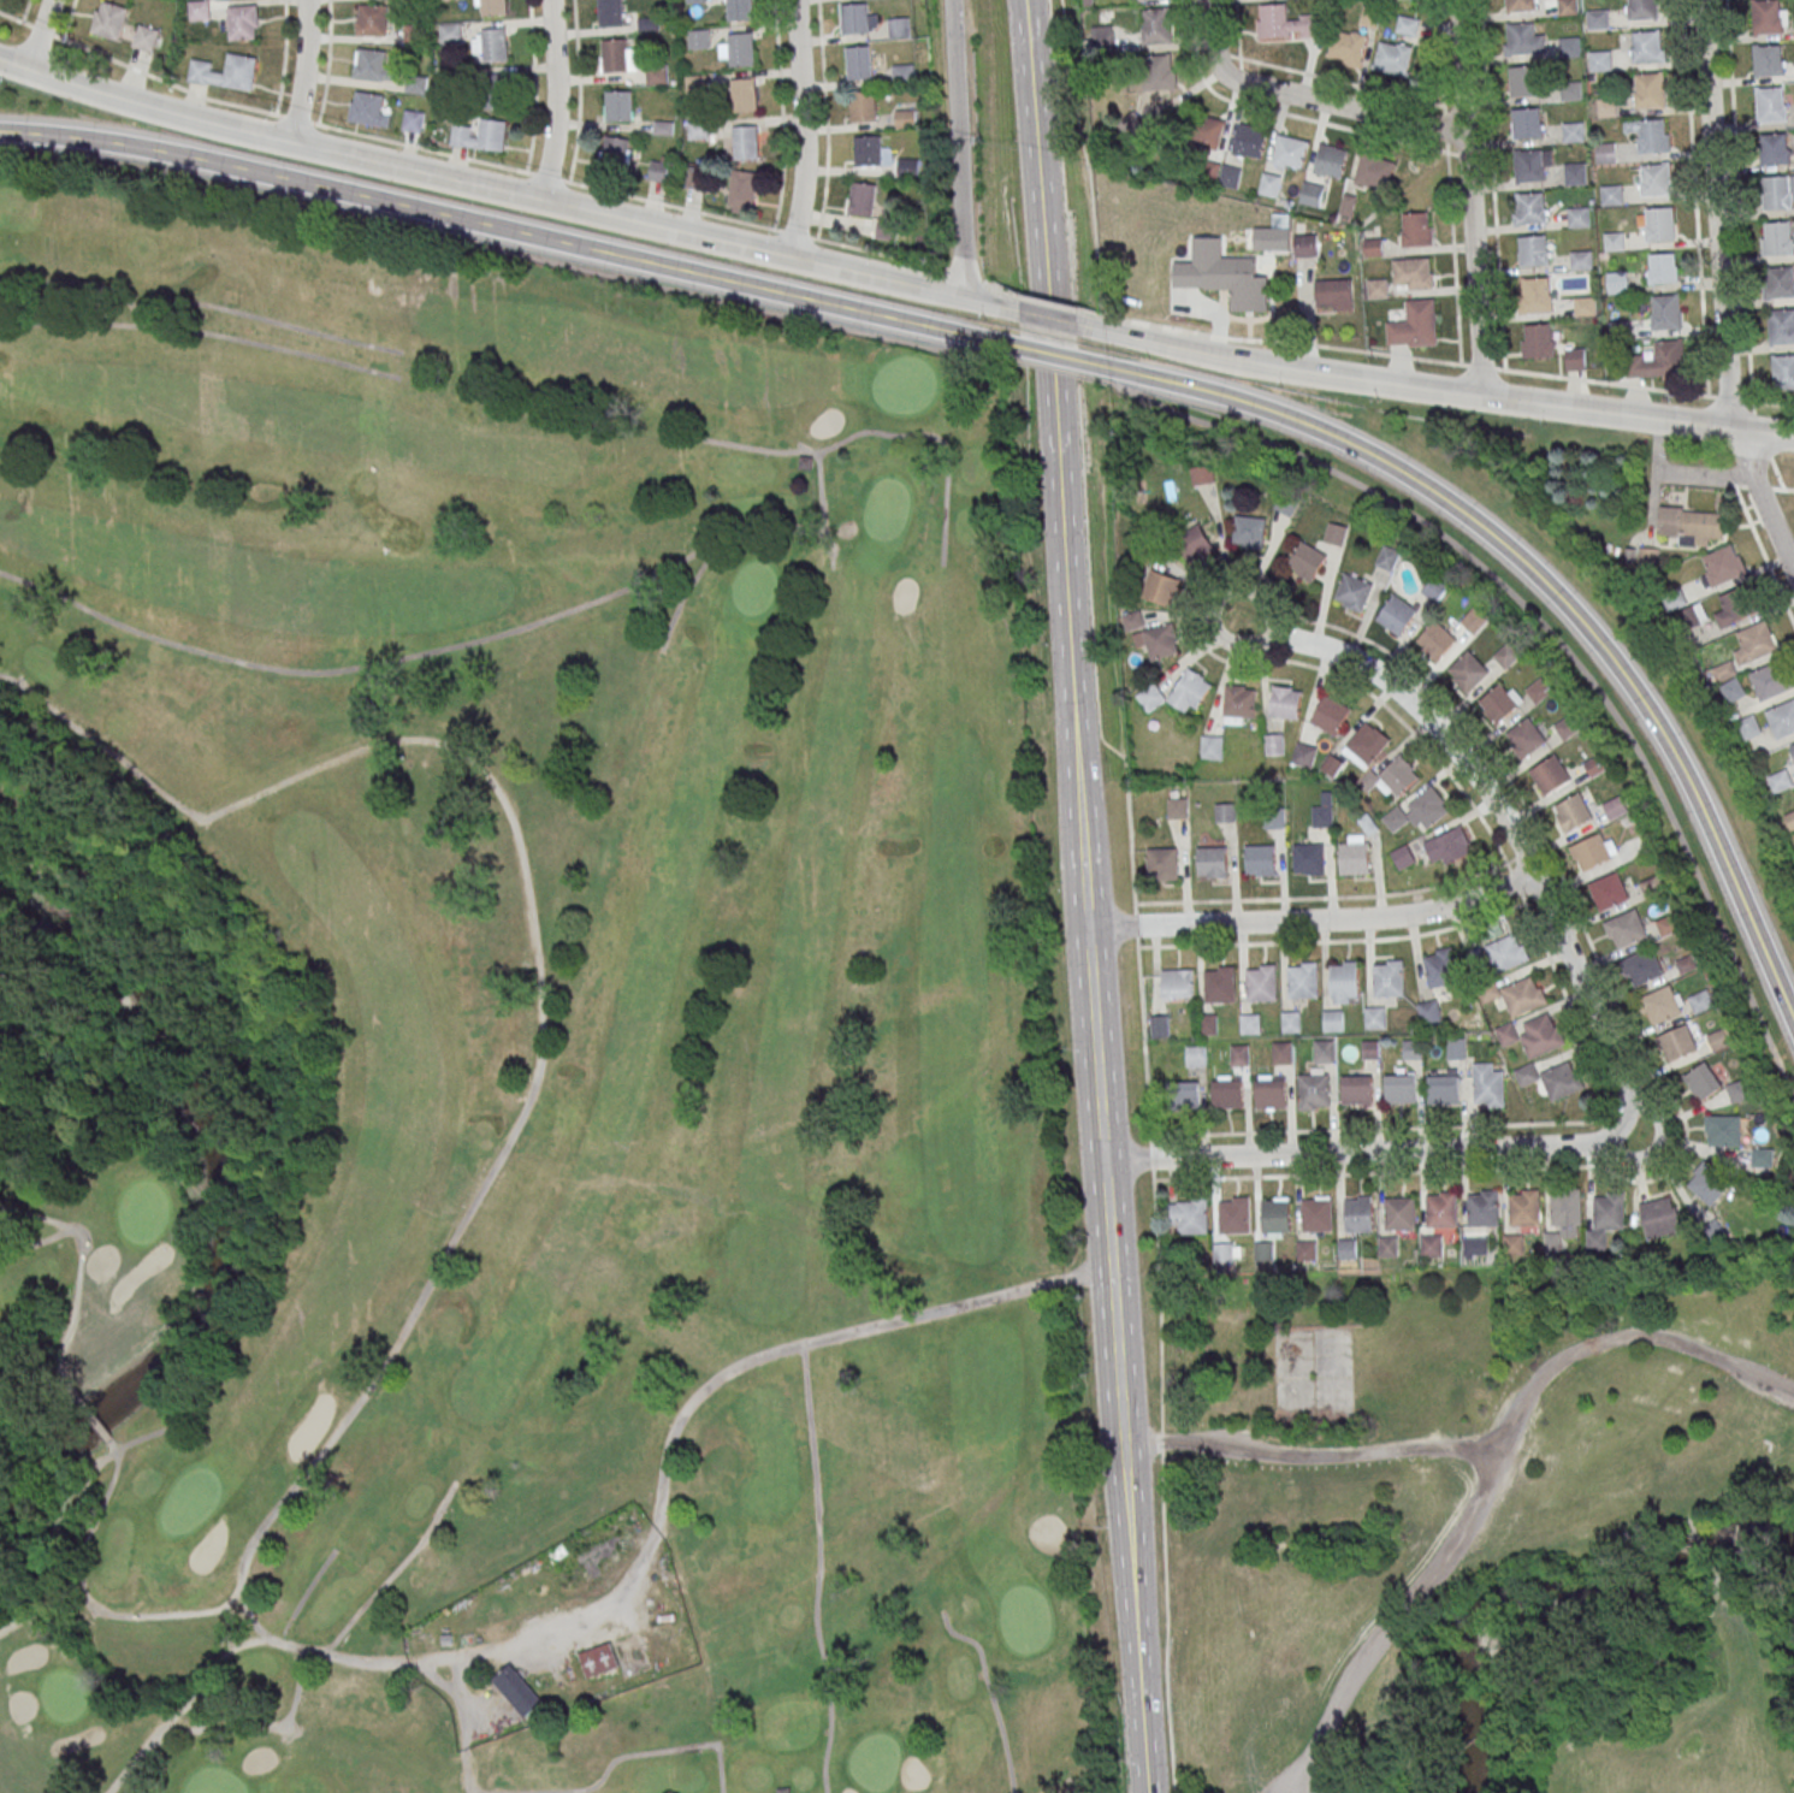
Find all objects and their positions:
building: (694, 2)
building: (1520, 6)
building: (490, 7)
building: (1567, 8)
building: (1641, 10)
building: (738, 11)
building: (197, 12)
building: (609, 13)
building: (1766, 16)
building: (1369, 17)
building: (108, 19)
road: (67, 20)
building: (371, 20)
building: (852, 20)
building: (243, 22)
road: (1236, 22)
building: (1597, 22)
building: (1285, 23)
building: (1155, 25)
building: (1407, 25)
road: (1213, 26)
building: (896, 29)
building: (413, 34)
road: (39, 35)
building: (449, 35)
building: (144, 39)
building: (1101, 39)
building: (1523, 39)
building: (697, 42)
building: (490, 43)
building: (1646, 46)
building: (1346, 48)
building: (1568, 49)
building: (740, 52)
road: (284, 58)
building: (611, 58)
building: (1392, 58)
building: (1768, 59)
building: (1599, 60)
road: (1256, 63)
road: (327, 64)
building: (857, 64)
building: (372, 66)
road: (304, 71)
building: (225, 72)
building: (1161, 72)
building: (656, 76)
building: (901, 76)
road: (1228, 76)
building: (1523, 81)
building: (450, 82)
road: (534, 85)
road: (1367, 85)
building: (694, 87)
building: (1650, 90)
building: (493, 91)
road: (578, 91)
building: (1570, 94)
building: (741, 97)
road: (556, 100)
building: (1770, 103)
building: (617, 106)
building: (367, 110)
building: (860, 110)
road: (1362, 110)
road: (781, 116)
road: (1291, 119)
road: (825, 120)
building: (904, 120)
building: (412, 122)
building: (1527, 123)
road: (805, 129)
building: (1206, 131)
building: (697, 132)
building: (1573, 134)
building: (1648, 134)
building: (480, 135)
building: (1249, 141)
building: (744, 146)
building: (1774, 147)
road: (955, 148)
building: (615, 153)
building: (866, 153)
building: (1289, 153)
building: (1330, 161)
road: (485, 162)
building: (1533, 165)
building: (907, 166)
building: (1373, 170)
building: (658, 171)
building: (693, 177)
building: (1574, 177)
building: (1656, 179)
road: (1449, 182)
building: (1268, 184)
road: (490, 188)
building: (741, 190)
building: (1776, 191)
building: (1310, 194)
building: (1611, 197)
road: (1694, 197)
building: (862, 199)
road: (1472, 199)
road: (1739, 200)
building: (1528, 209)
building: (1577, 219)
building: (1659, 224)
road: (493, 225)
building: (1416, 230)
building: (1778, 237)
building: (1279, 239)
building: (1614, 244)
building: (1304, 245)
road: (496, 248)
building: (1373, 248)
building: (1533, 250)
building: (1580, 262)
building: (1663, 268)
building: (1411, 273)
building: (1222, 276)
building: (1778, 280)
building: (1617, 285)
road: (1722, 288)
building: (1378, 289)
building: (1333, 295)
building: (1535, 295)
road: (1042, 300)
building: (1583, 308)
building: (1665, 312)
road: (1046, 316)
building: (1414, 325)
building: (1781, 325)
building: (1618, 332)
building: (1537, 341)
road: (1047, 354)
building: (1575, 359)
building: (1658, 361)
road: (1449, 362)
road: (1050, 369)
building: (1783, 371)
road: (1449, 393)
road: (1050, 433)
building: (1201, 474)
road: (1704, 474)
road: (1091, 485)
road: (1777, 486)
building: (1285, 504)
building: (1692, 523)
building: (1248, 531)
building: (1334, 534)
building: (1194, 543)
road: (1763, 548)
building: (1650, 554)
building: (1387, 558)
building: (1305, 561)
building: (1722, 568)
road: (1105, 569)
road: (1226, 587)
building: (1160, 588)
building: (1434, 588)
road: (1550, 590)
road: (1278, 592)
building: (1352, 592)
building: (1735, 606)
building: (1397, 614)
building: (1133, 621)
building: (1473, 621)
park: (1592, 634)
road: (1550, 639)
building: (1157, 640)
building: (1435, 640)
building: (1754, 643)
building: (1506, 656)
building: (1467, 671)
building: (1770, 682)
building: (1733, 688)
building: (1539, 691)
building: (1179, 693)
building: (1285, 702)
building: (1499, 702)
building: (1239, 704)
building: (1330, 715)
building: (1781, 721)
building: (1749, 726)
building: (1526, 738)
building: (1274, 744)
building: (1366, 745)
building: (1212, 747)
building: (1792, 748)
building: (1303, 755)
building: (1549, 775)
building: (1393, 776)
building: (1780, 780)
building: (1177, 807)
building: (1615, 807)
building: (1426, 810)
building: (1224, 812)
building: (1322, 812)
building: (1573, 812)
building: (1790, 819)
road: (1509, 828)
building: (1447, 847)
building: (1593, 851)
building: (1354, 854)
building: (1308, 858)
building: (1260, 860)
building: (1213, 862)
building: (1161, 864)
road: (1133, 889)
building: (1609, 892)
road: (1322, 899)
road: (1313, 921)
building: (1626, 929)
road: (1333, 941)
building: (1508, 952)
building: (1440, 967)
building: (1642, 967)
building: (1389, 977)
building: (1302, 980)
building: (1261, 982)
building: (1344, 982)
building: (1177, 983)
building: (1219, 983)
building: (1523, 995)
building: (1701, 1001)
building: (1662, 1005)
building: (1429, 1013)
building: (1374, 1018)
building: (1333, 1020)
building: (1291, 1022)
building: (1250, 1023)
building: (1208, 1024)
building: (1159, 1026)
building: (1541, 1035)
park: (513, 1037)
building: (1677, 1043)
building: (1455, 1048)
building: (1369, 1049)
building: (1411, 1049)
building: (1324, 1051)
building: (1281, 1053)
building: (1239, 1055)
building: (1196, 1057)
building: (1552, 1079)
building: (1703, 1082)
building: (1487, 1085)
building: (1443, 1088)
building: (1356, 1089)
building: (1399, 1089)
building: (1739, 1090)
building: (1227, 1091)
building: (1269, 1091)
building: (1314, 1091)
building: (1189, 1094)
building: (1723, 1130)
road: (1364, 1152)
building: (1760, 1158)
road: (1101, 1166)
building: (1707, 1183)
building: (1564, 1208)
building: (1482, 1212)
building: (1523, 1212)
river: (213, 1213)
building: (1441, 1213)
building: (1358, 1214)
building: (1189, 1215)
building: (1235, 1215)
building: (1608, 1215)
building: (1275, 1217)
building: (1399, 1217)
building: (1316, 1218)
building: (1659, 1218)
building: (1429, 1245)
building: (1389, 1247)
building: (1348, 1249)
building: (1307, 1250)
road: (742, 1366)
road: (1312, 1456)
road: (1492, 1473)
road: (1733, 1483)
park: (1488, 1525)
road: (1705, 1550)
river: (1545, 1600)
road: (1135, 1629)
building: (598, 1659)
road: (1755, 1679)
building: (517, 1691)
park: (1688, 1774)
parking lot: (1296, 1781)
building: (783, 1791)

